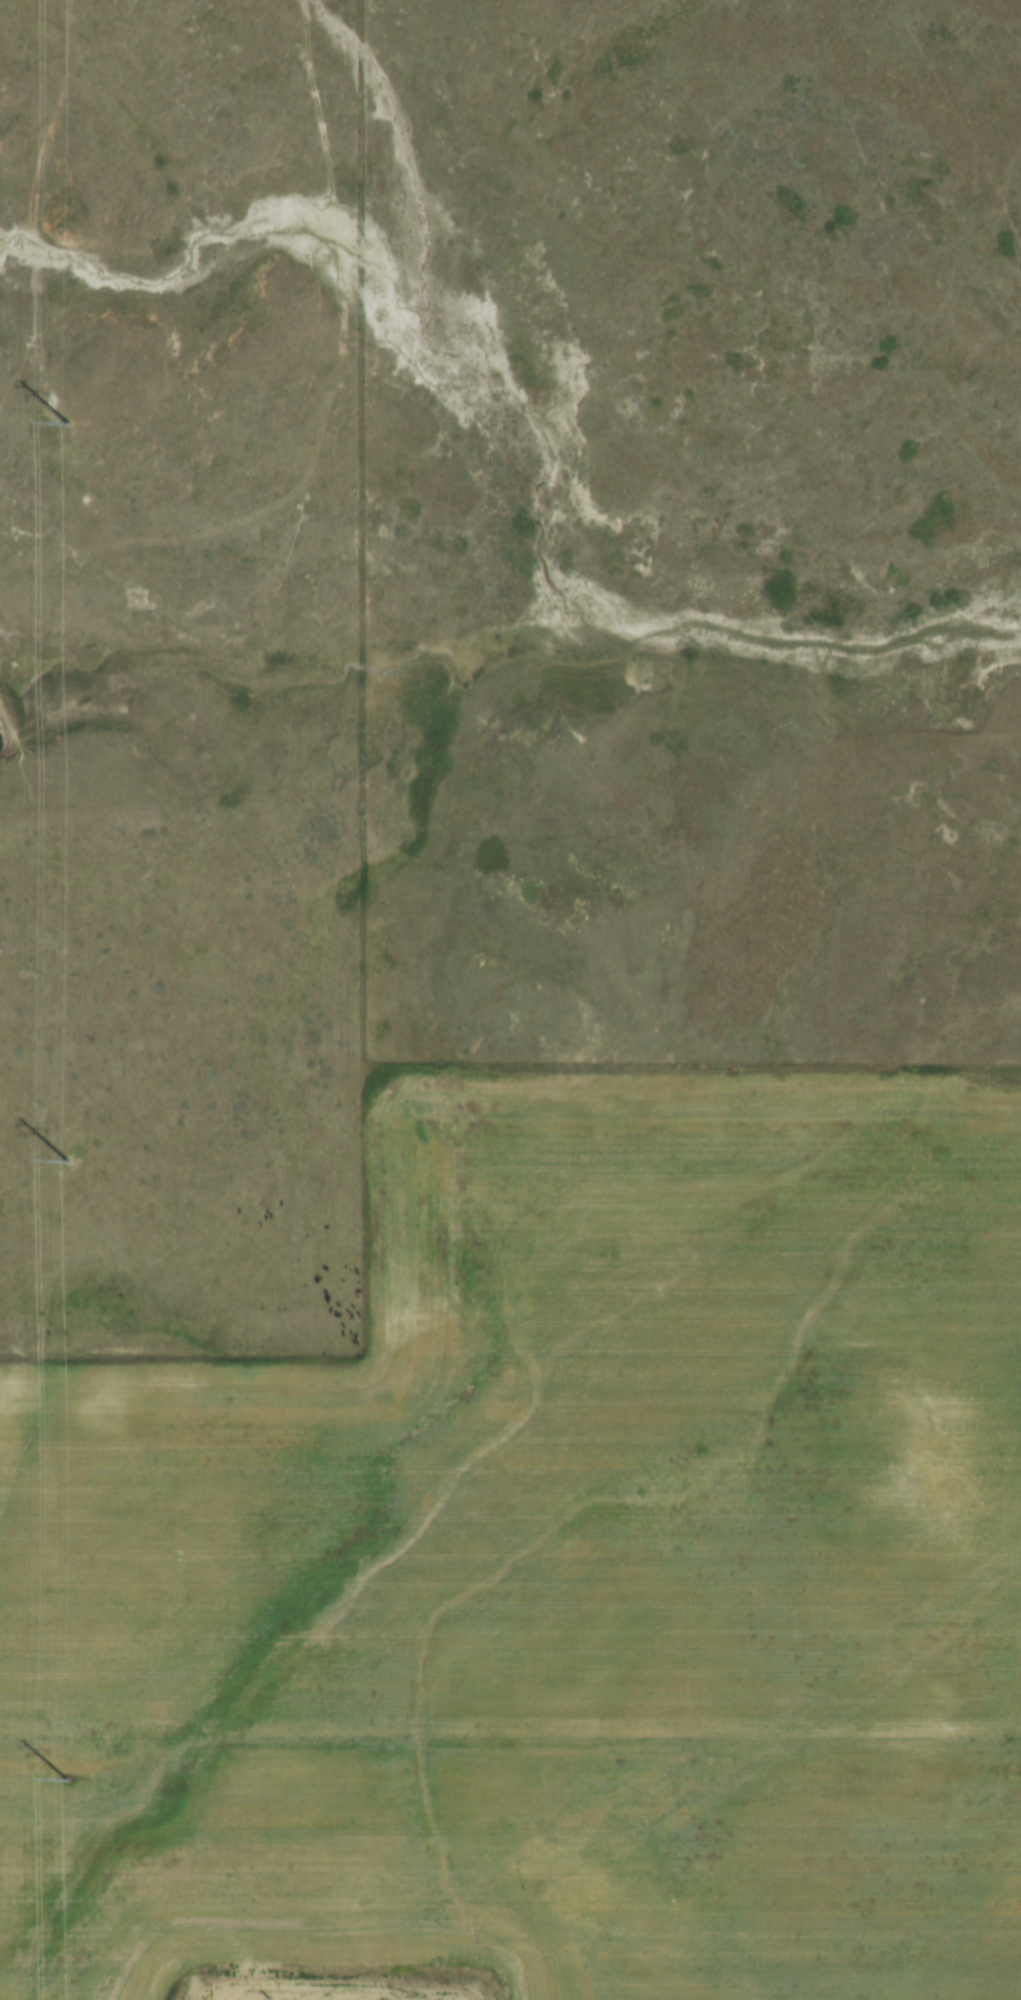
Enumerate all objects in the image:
road: (344, 310)
power tower: (73, 424)
dam: (20, 739)
power tower: (68, 1163)
power tower: (68, 1780)

